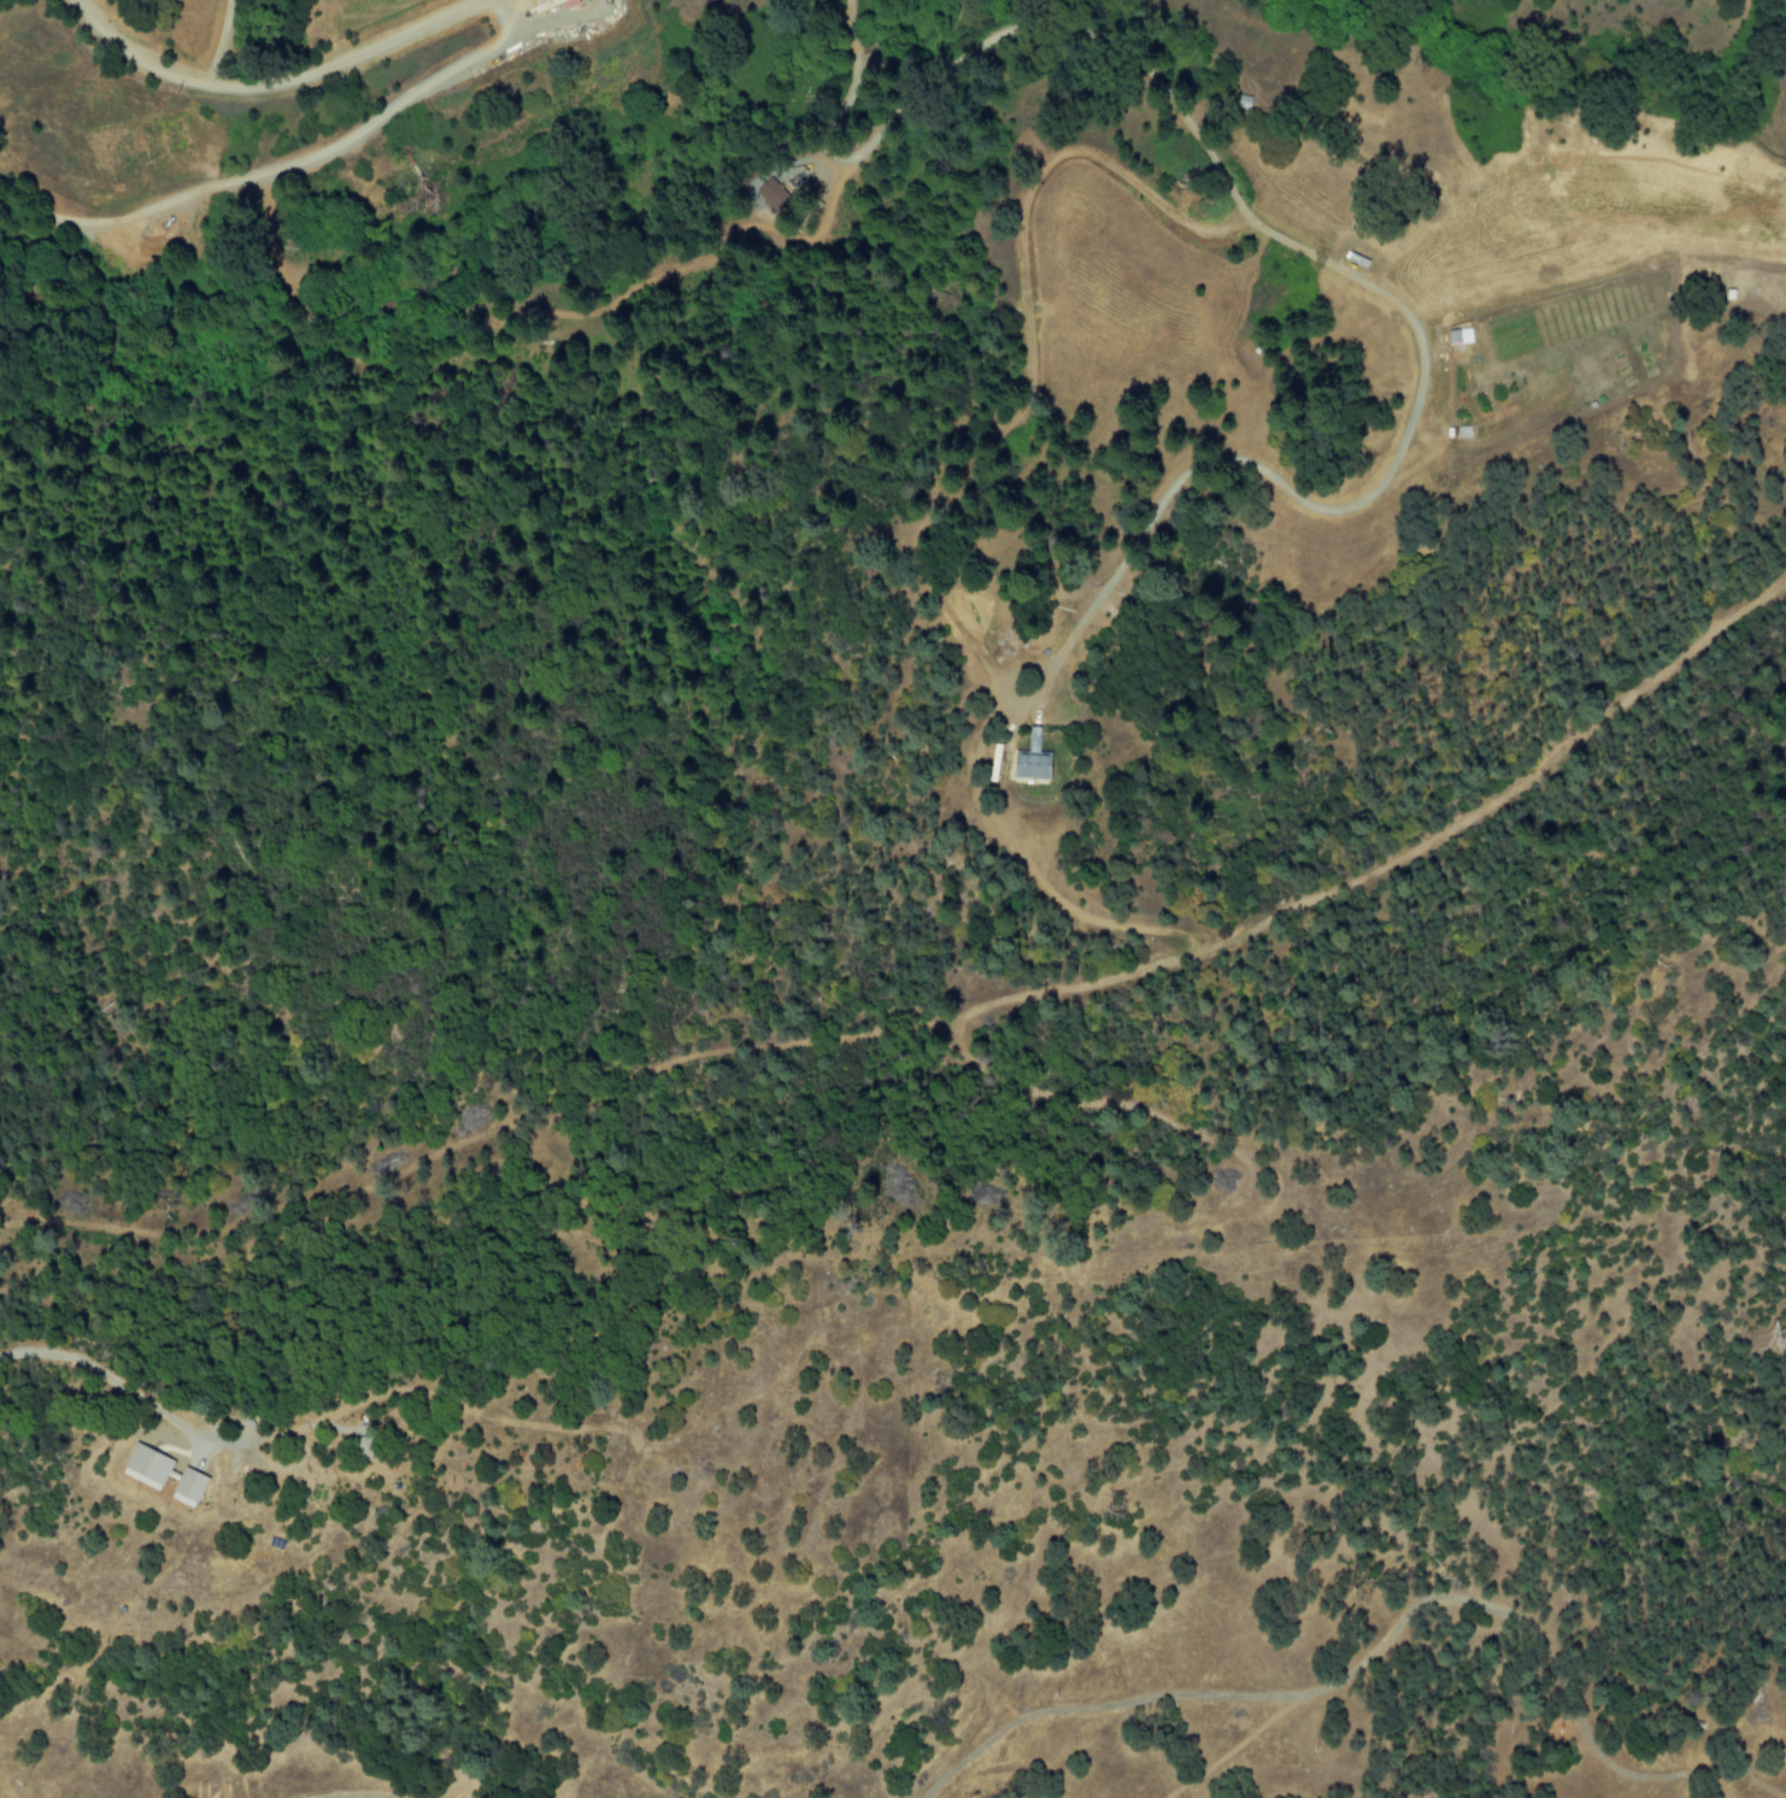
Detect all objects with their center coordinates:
crop: (394, 8)
road: (274, 84)
building: (776, 199)
building: (1033, 758)
road: (933, 1017)
building: (146, 1467)
building: (188, 1488)
road: (1363, 1659)
road: (1759, 1764)
road: (1759, 1782)
road: (363, 1794)

